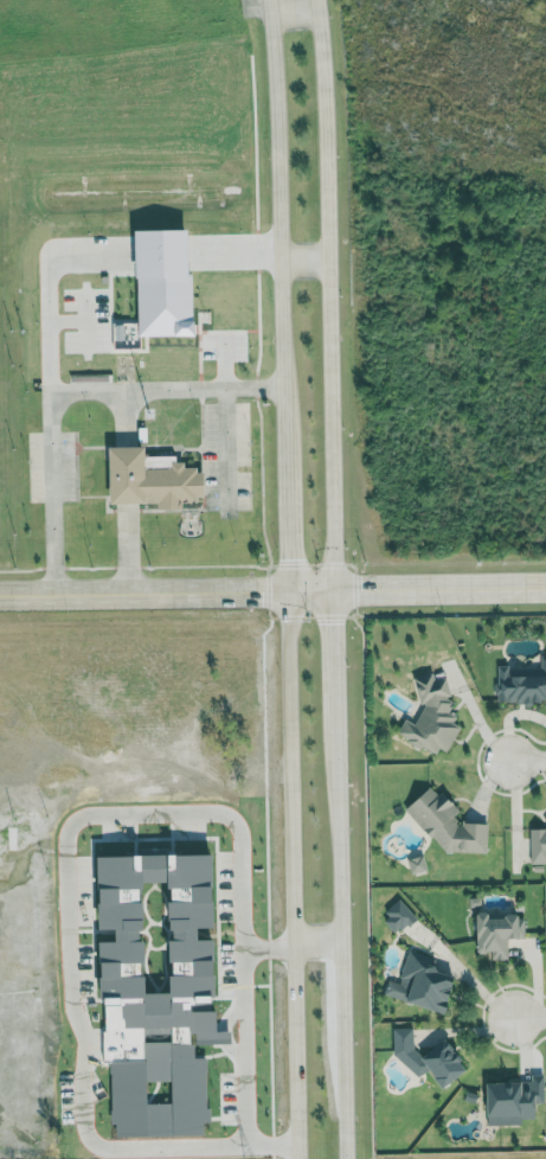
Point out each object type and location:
road: (277, 243)
road: (235, 261)
building: (167, 281)
road: (330, 296)
road: (51, 300)
road: (63, 391)
road: (406, 416)
road: (229, 446)
road: (384, 453)
road: (403, 453)
road: (423, 454)
road: (384, 478)
road: (402, 478)
building: (154, 479)
road: (423, 479)
road: (431, 481)
road: (385, 501)
road: (404, 502)
road: (423, 502)
road: (378, 527)
road: (285, 542)
traffic signals: (334, 594)
road: (272, 596)
traffic signals: (288, 596)
road: (334, 645)
building: (521, 684)
building: (432, 716)
road: (525, 761)
building: (449, 825)
building: (538, 844)
building: (418, 864)
road: (293, 877)
building: (398, 917)
road: (339, 927)
building: (497, 933)
road: (317, 948)
building: (423, 982)
road: (75, 994)
road: (527, 1017)
building: (426, 1055)
building: (514, 1100)
road: (274, 1152)

